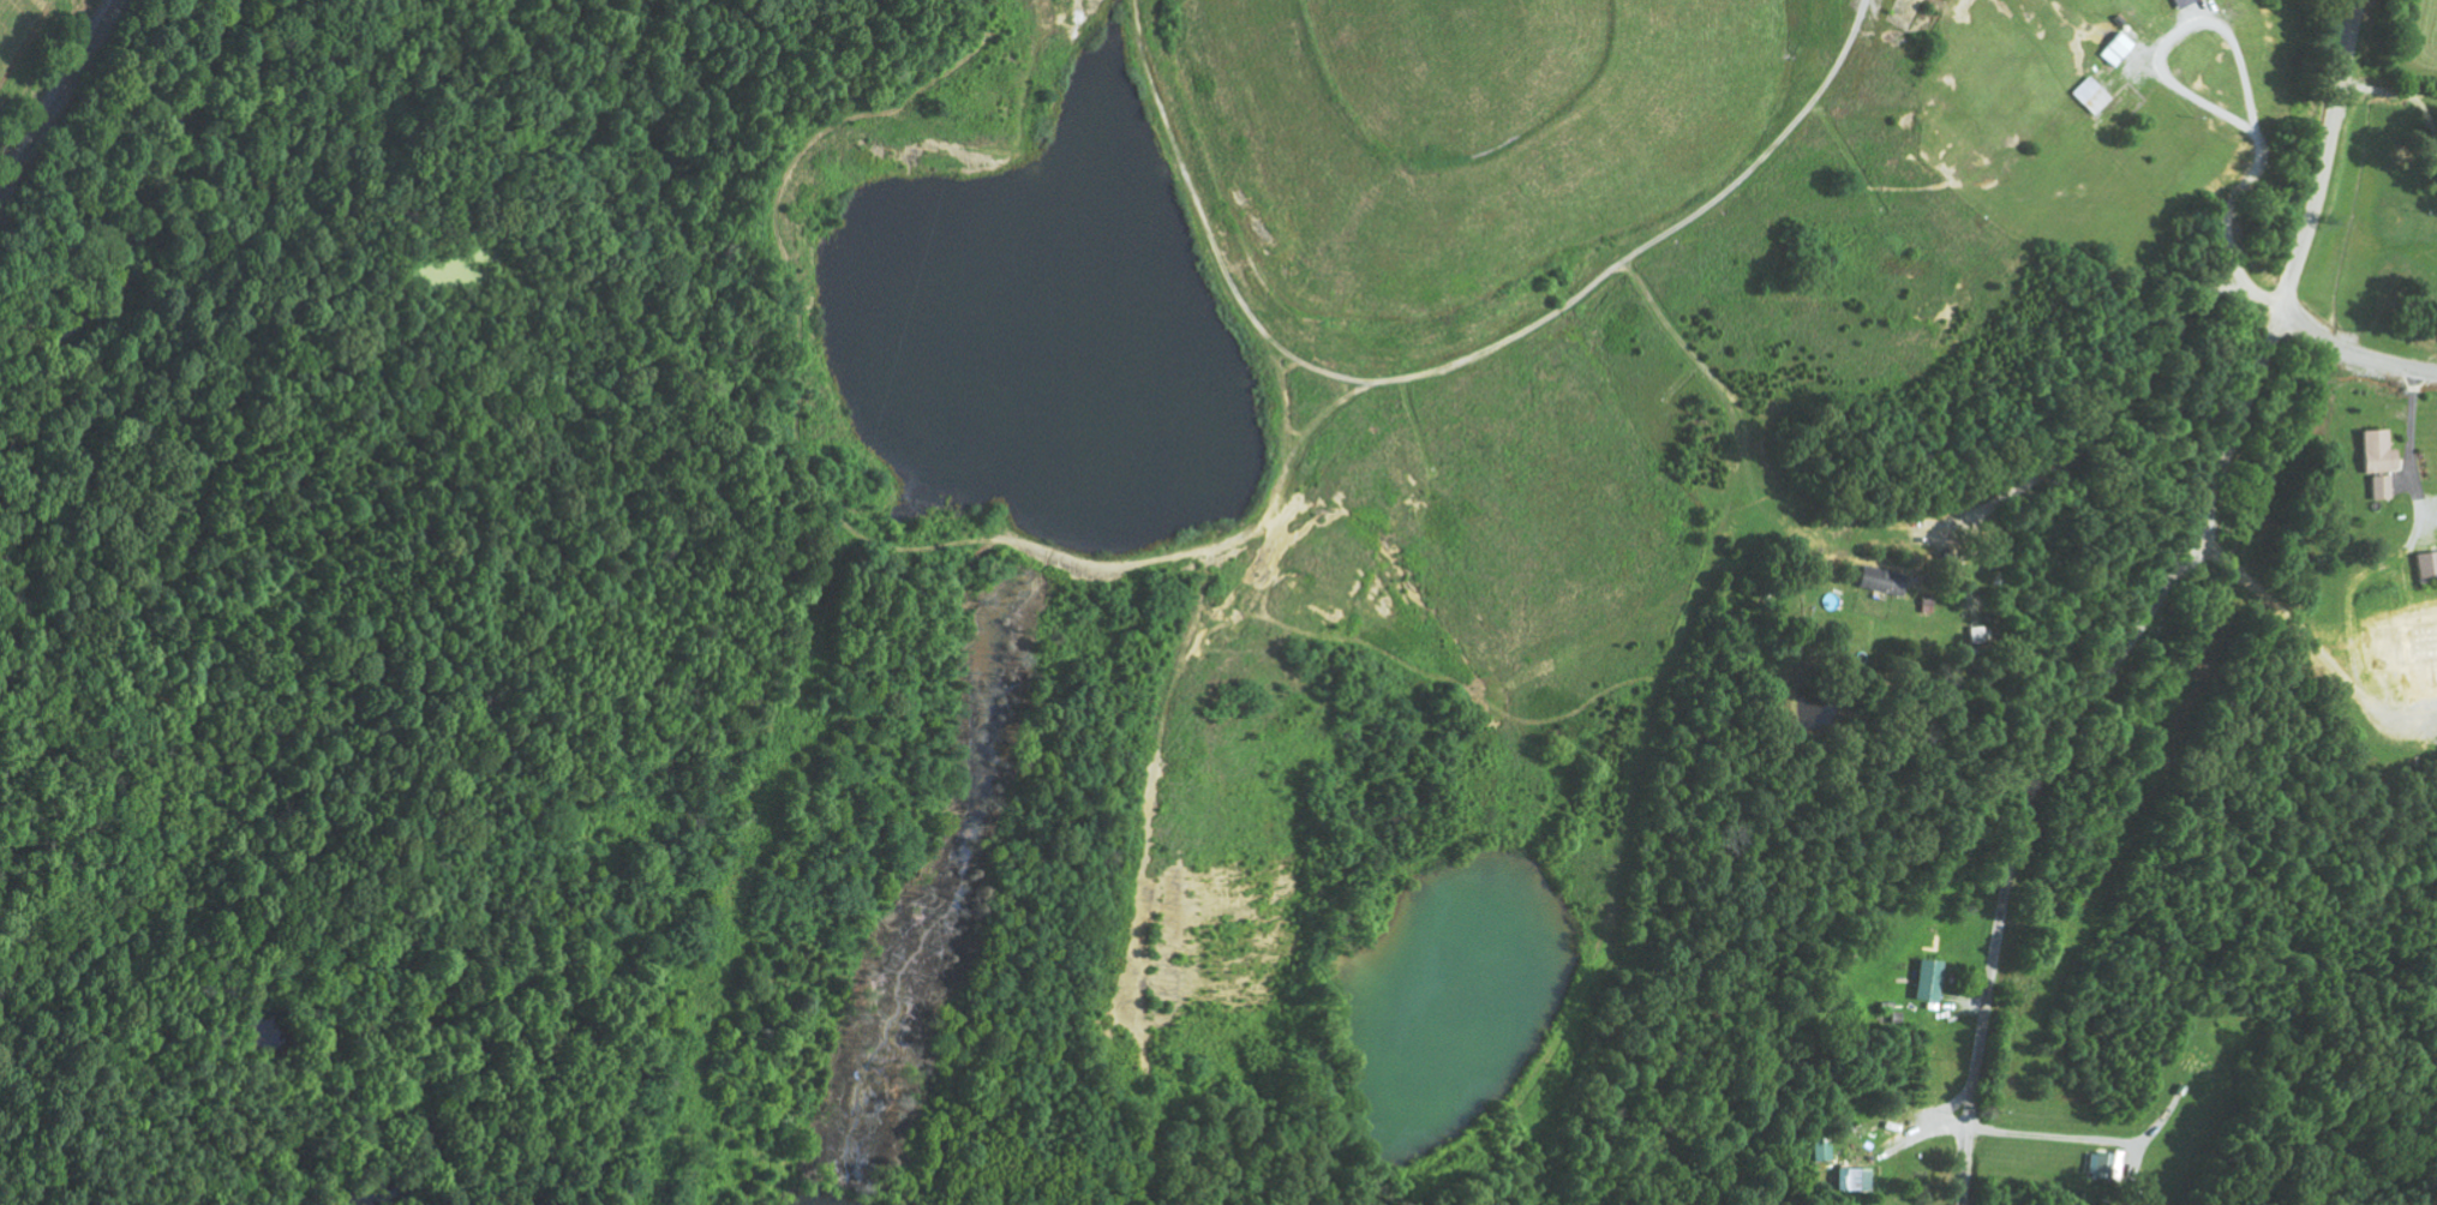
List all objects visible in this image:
building: (2182, 2)
building: (2115, 48)
building: (2090, 95)
railway: (58, 101)
road: (2323, 155)
road: (2229, 176)
road: (2269, 209)
road: (2351, 353)
building: (2378, 461)
building: (2426, 565)
building: (1882, 581)
building: (1975, 635)
road: (2059, 735)
building: (1929, 981)
building: (2104, 1165)
building: (1852, 1180)

